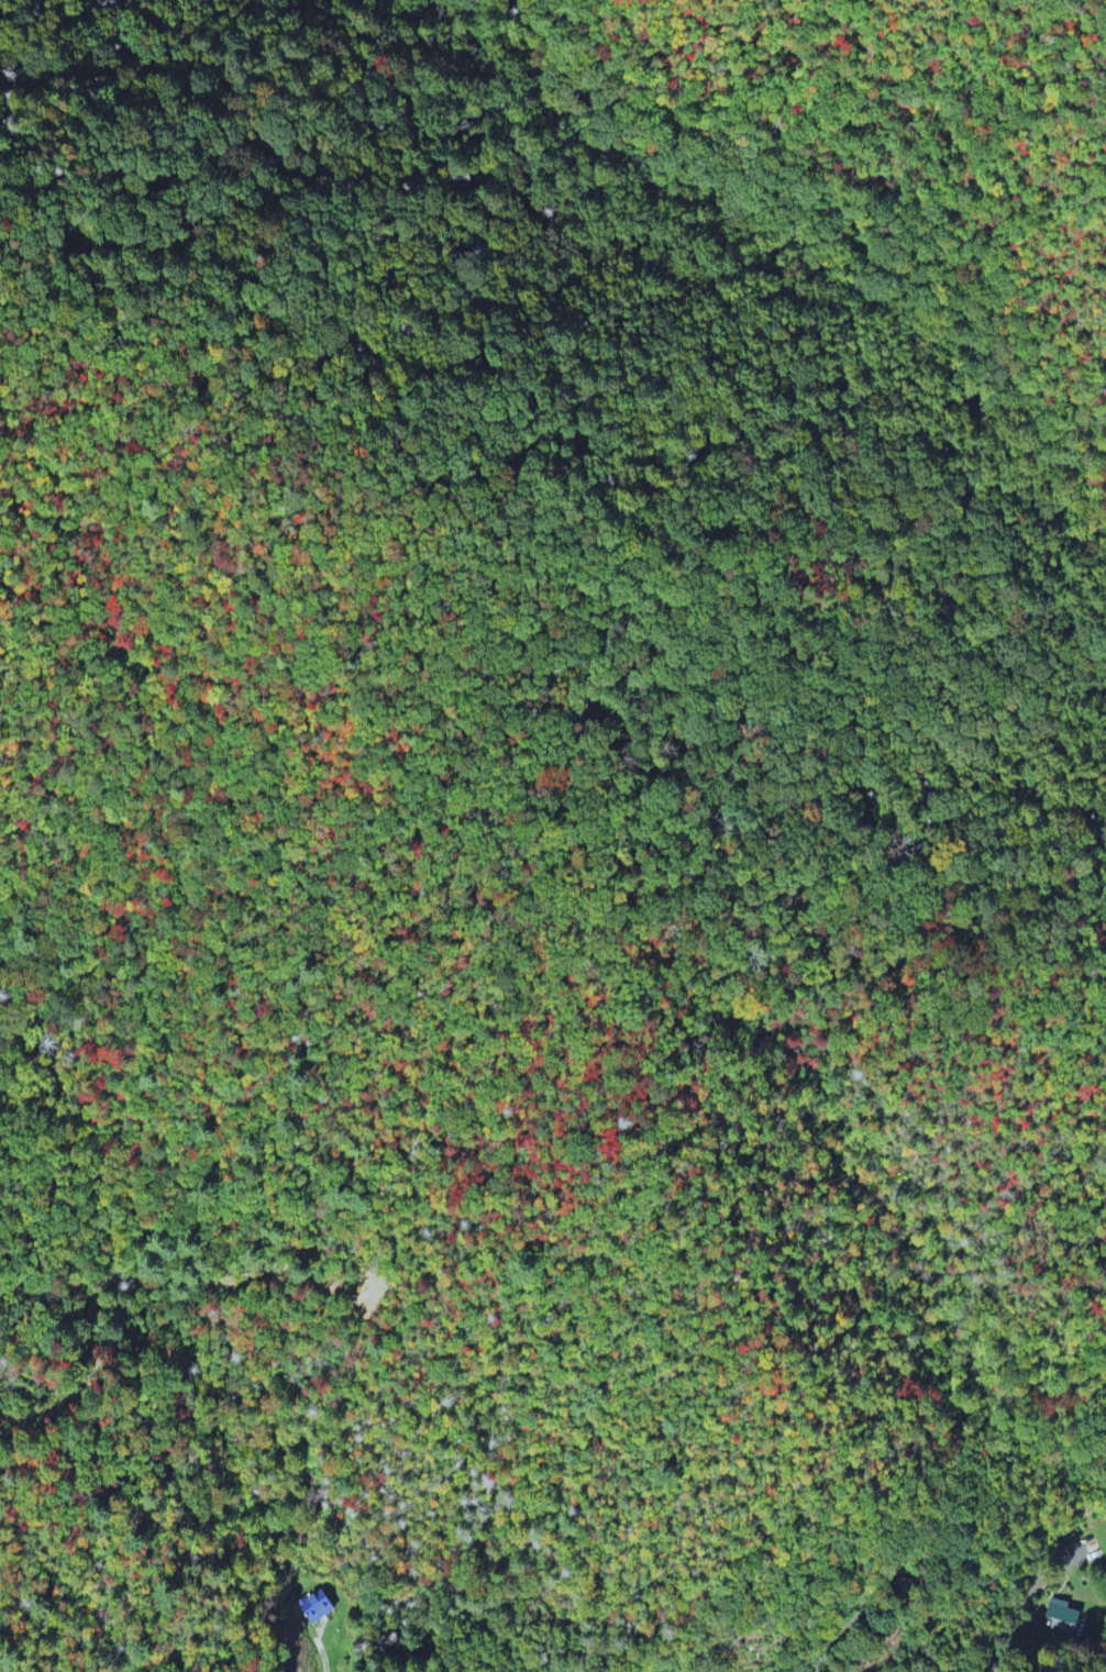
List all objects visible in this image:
road: (1005, 1619)
road: (845, 1631)
river: (1087, 1662)

